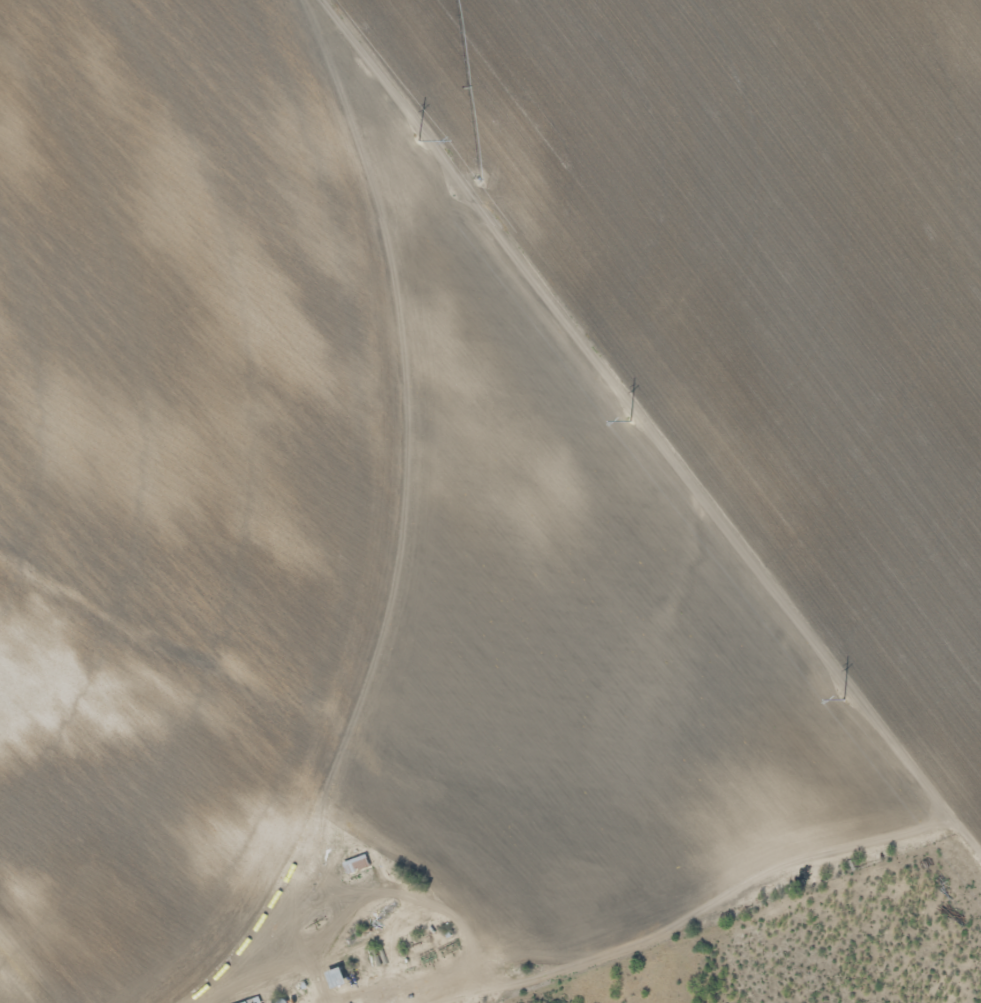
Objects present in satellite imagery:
power tower: (411, 134)
power tower: (625, 413)
power tower: (837, 691)
building: (357, 865)
building: (337, 978)
building: (254, 1001)

